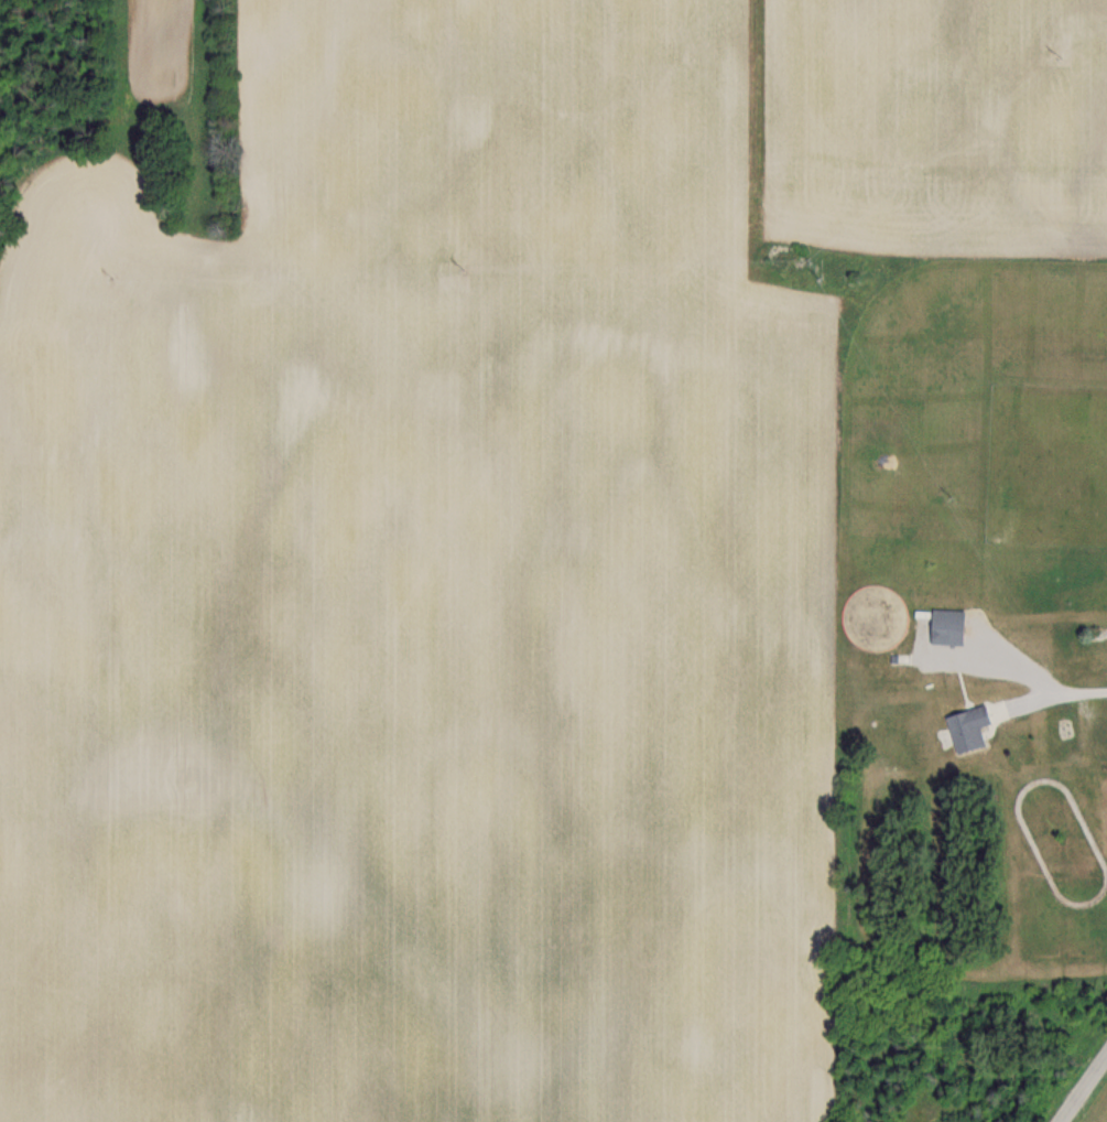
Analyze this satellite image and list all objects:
building: (945, 625)
road: (1062, 693)
building: (965, 727)
road: (1086, 1092)
park: (1103, 1116)

